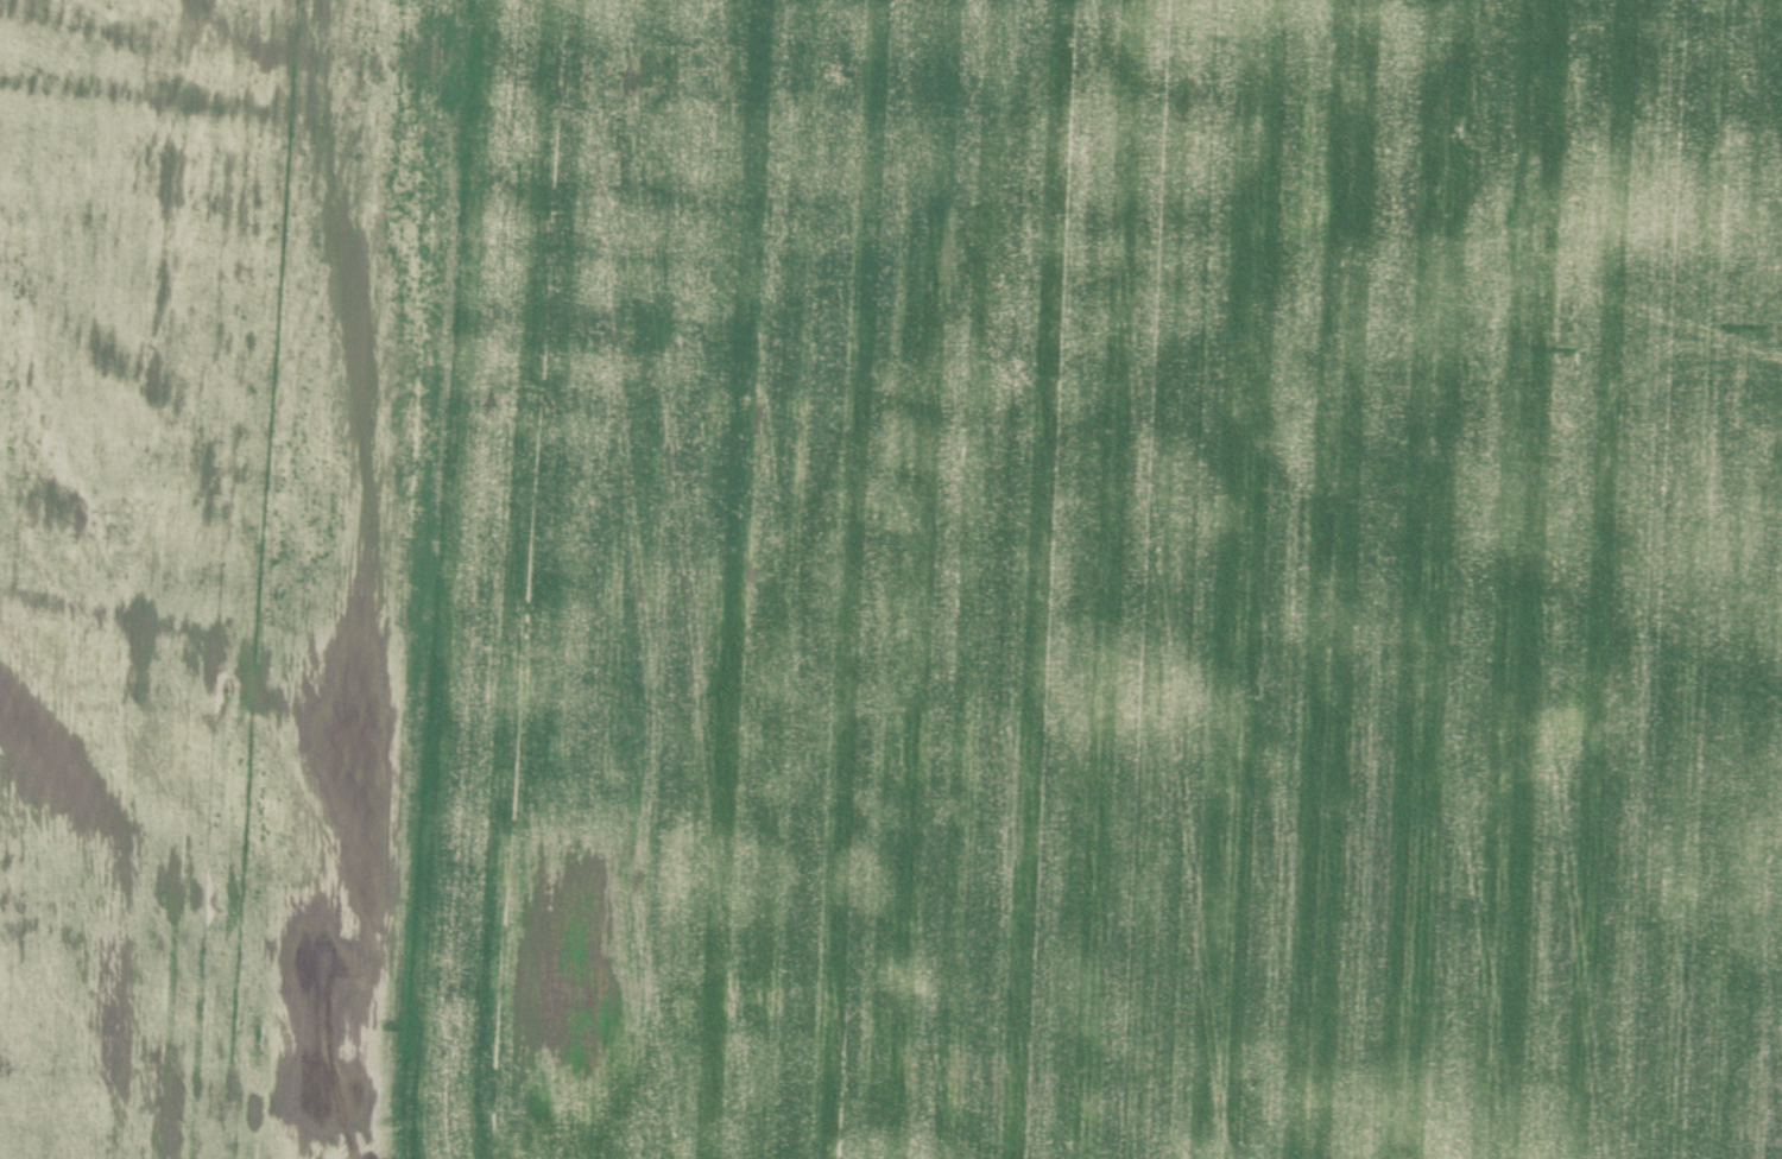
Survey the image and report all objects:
crop: (211, 560)
crop: (1101, 584)

